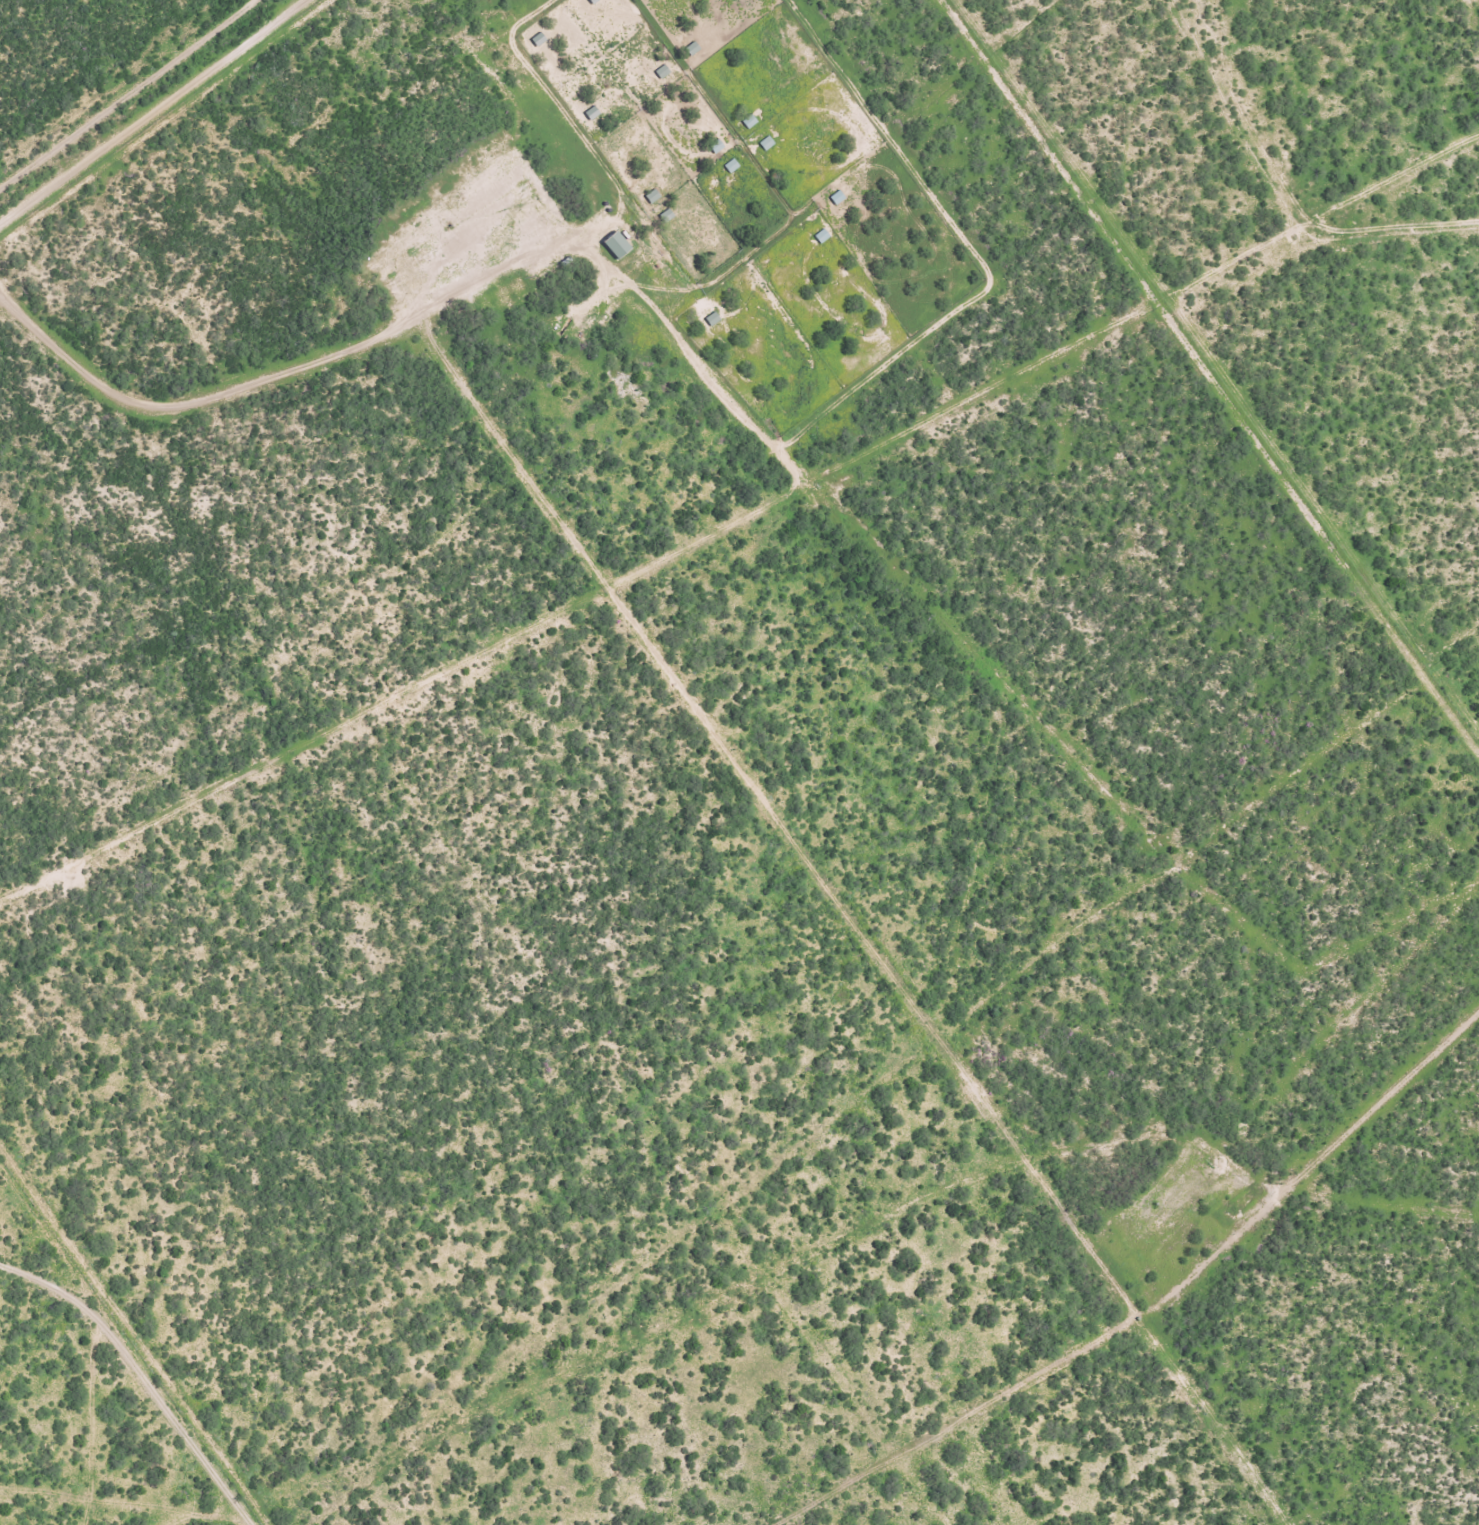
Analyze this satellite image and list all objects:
road: (164, 100)
road: (1145, 1195)

